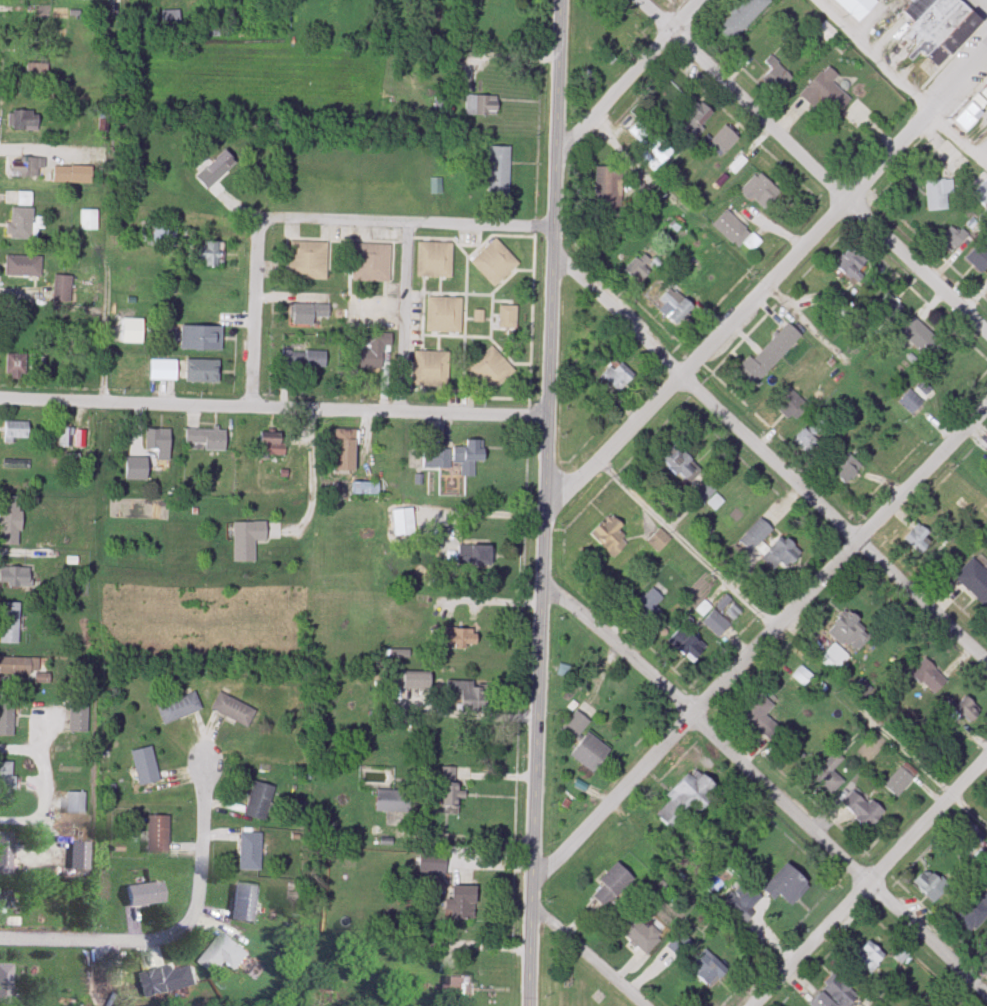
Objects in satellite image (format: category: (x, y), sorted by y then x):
building: (856, 8)
building: (742, 18)
building: (170, 20)
building: (935, 32)
building: (825, 33)
building: (612, 39)
building: (18, 47)
road: (507, 60)
building: (36, 72)
building: (775, 75)
road: (903, 79)
road: (632, 81)
building: (826, 93)
building: (985, 93)
building: (481, 106)
building: (971, 113)
building: (695, 118)
building: (22, 122)
building: (723, 141)
building: (27, 168)
road: (807, 168)
building: (216, 171)
building: (499, 172)
building: (61, 175)
building: (607, 187)
building: (760, 191)
building: (937, 194)
building: (981, 194)
building: (24, 199)
building: (89, 220)
building: (21, 224)
road: (404, 226)
building: (736, 232)
building: (164, 234)
building: (955, 240)
building: (207, 254)
building: (978, 258)
building: (434, 260)
building: (308, 261)
building: (494, 263)
building: (851, 263)
building: (371, 264)
building: (23, 266)
building: (636, 270)
road: (764, 286)
building: (62, 289)
building: (676, 307)
building: (888, 307)
road: (95, 310)
building: (309, 314)
building: (444, 315)
building: (837, 315)
road: (614, 317)
road: (255, 318)
building: (507, 318)
road: (400, 320)
building: (130, 337)
building: (201, 339)
building: (921, 339)
building: (371, 351)
building: (768, 356)
building: (303, 359)
building: (16, 366)
building: (432, 369)
building: (163, 370)
building: (490, 370)
building: (202, 372)
building: (619, 377)
building: (910, 401)
building: (791, 404)
road: (273, 412)
building: (16, 432)
building: (810, 436)
building: (65, 437)
building: (207, 439)
building: (159, 443)
building: (272, 446)
building: (345, 450)
building: (468, 456)
building: (436, 458)
building: (681, 465)
building: (847, 468)
building: (136, 469)
building: (366, 489)
road: (308, 490)
building: (705, 492)
road: (543, 502)
road: (480, 517)
building: (10, 521)
building: (403, 522)
road: (833, 523)
building: (756, 535)
building: (610, 536)
building: (917, 539)
building: (247, 540)
building: (659, 540)
road: (687, 547)
building: (783, 552)
building: (475, 555)
building: (15, 576)
building: (974, 581)
building: (647, 604)
road: (488, 606)
building: (9, 623)
building: (716, 624)
building: (848, 632)
building: (456, 637)
building: (686, 644)
road: (759, 647)
building: (833, 658)
building: (18, 666)
building: (928, 677)
building: (417, 681)
building: (466, 694)
building: (179, 709)
building: (233, 710)
building: (7, 716)
road: (480, 716)
building: (759, 717)
building: (78, 718)
building: (578, 721)
road: (882, 727)
building: (590, 752)
building: (938, 754)
building: (145, 766)
building: (829, 773)
building: (899, 781)
building: (6, 783)
road: (47, 785)
building: (448, 786)
road: (763, 790)
building: (687, 799)
building: (259, 801)
building: (393, 801)
building: (75, 802)
building: (862, 808)
building: (158, 833)
building: (967, 835)
road: (461, 837)
building: (6, 850)
building: (249, 851)
building: (80, 853)
building: (612, 884)
building: (787, 884)
road: (874, 884)
building: (930, 884)
building: (146, 892)
building: (5, 897)
building: (244, 901)
building: (463, 903)
building: (744, 907)
building: (973, 912)
building: (640, 934)
road: (175, 937)
building: (682, 941)
building: (985, 949)
road: (482, 951)
building: (226, 953)
road: (583, 956)
building: (869, 956)
building: (707, 968)
building: (171, 979)
building: (6, 983)
building: (461, 987)
building: (836, 995)

